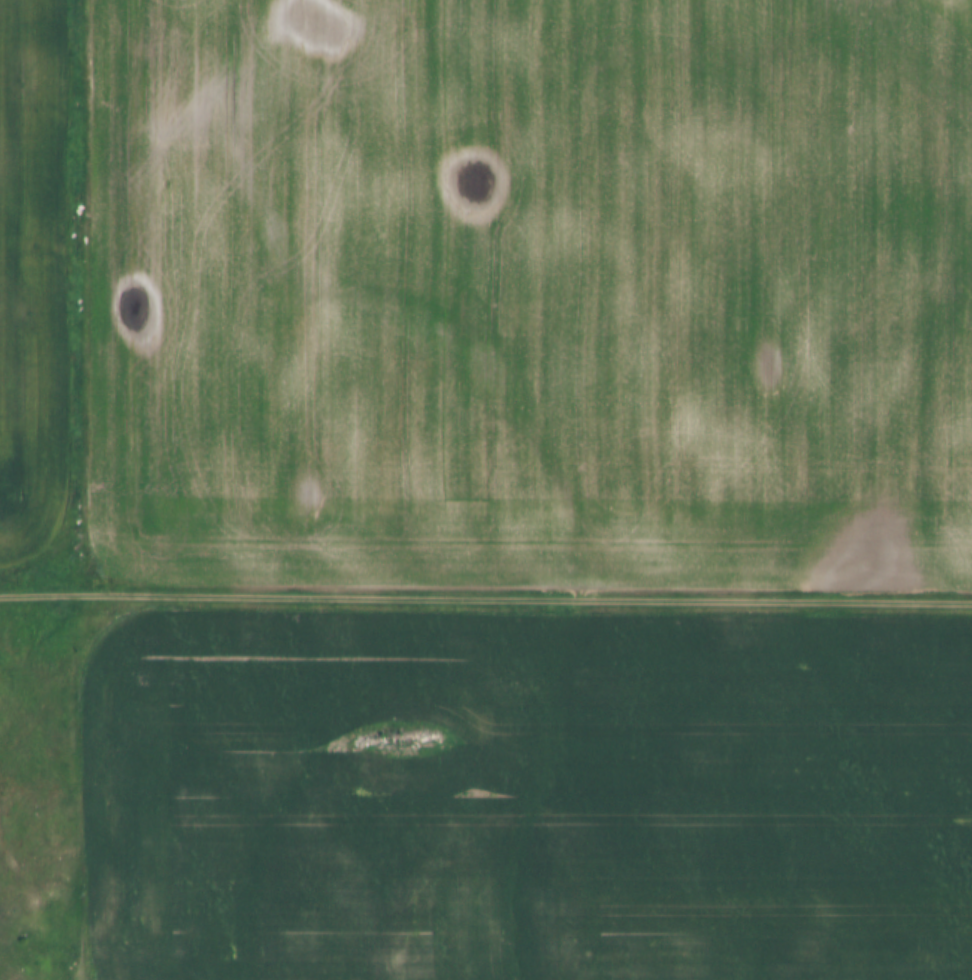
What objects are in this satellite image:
road: (486, 596)

